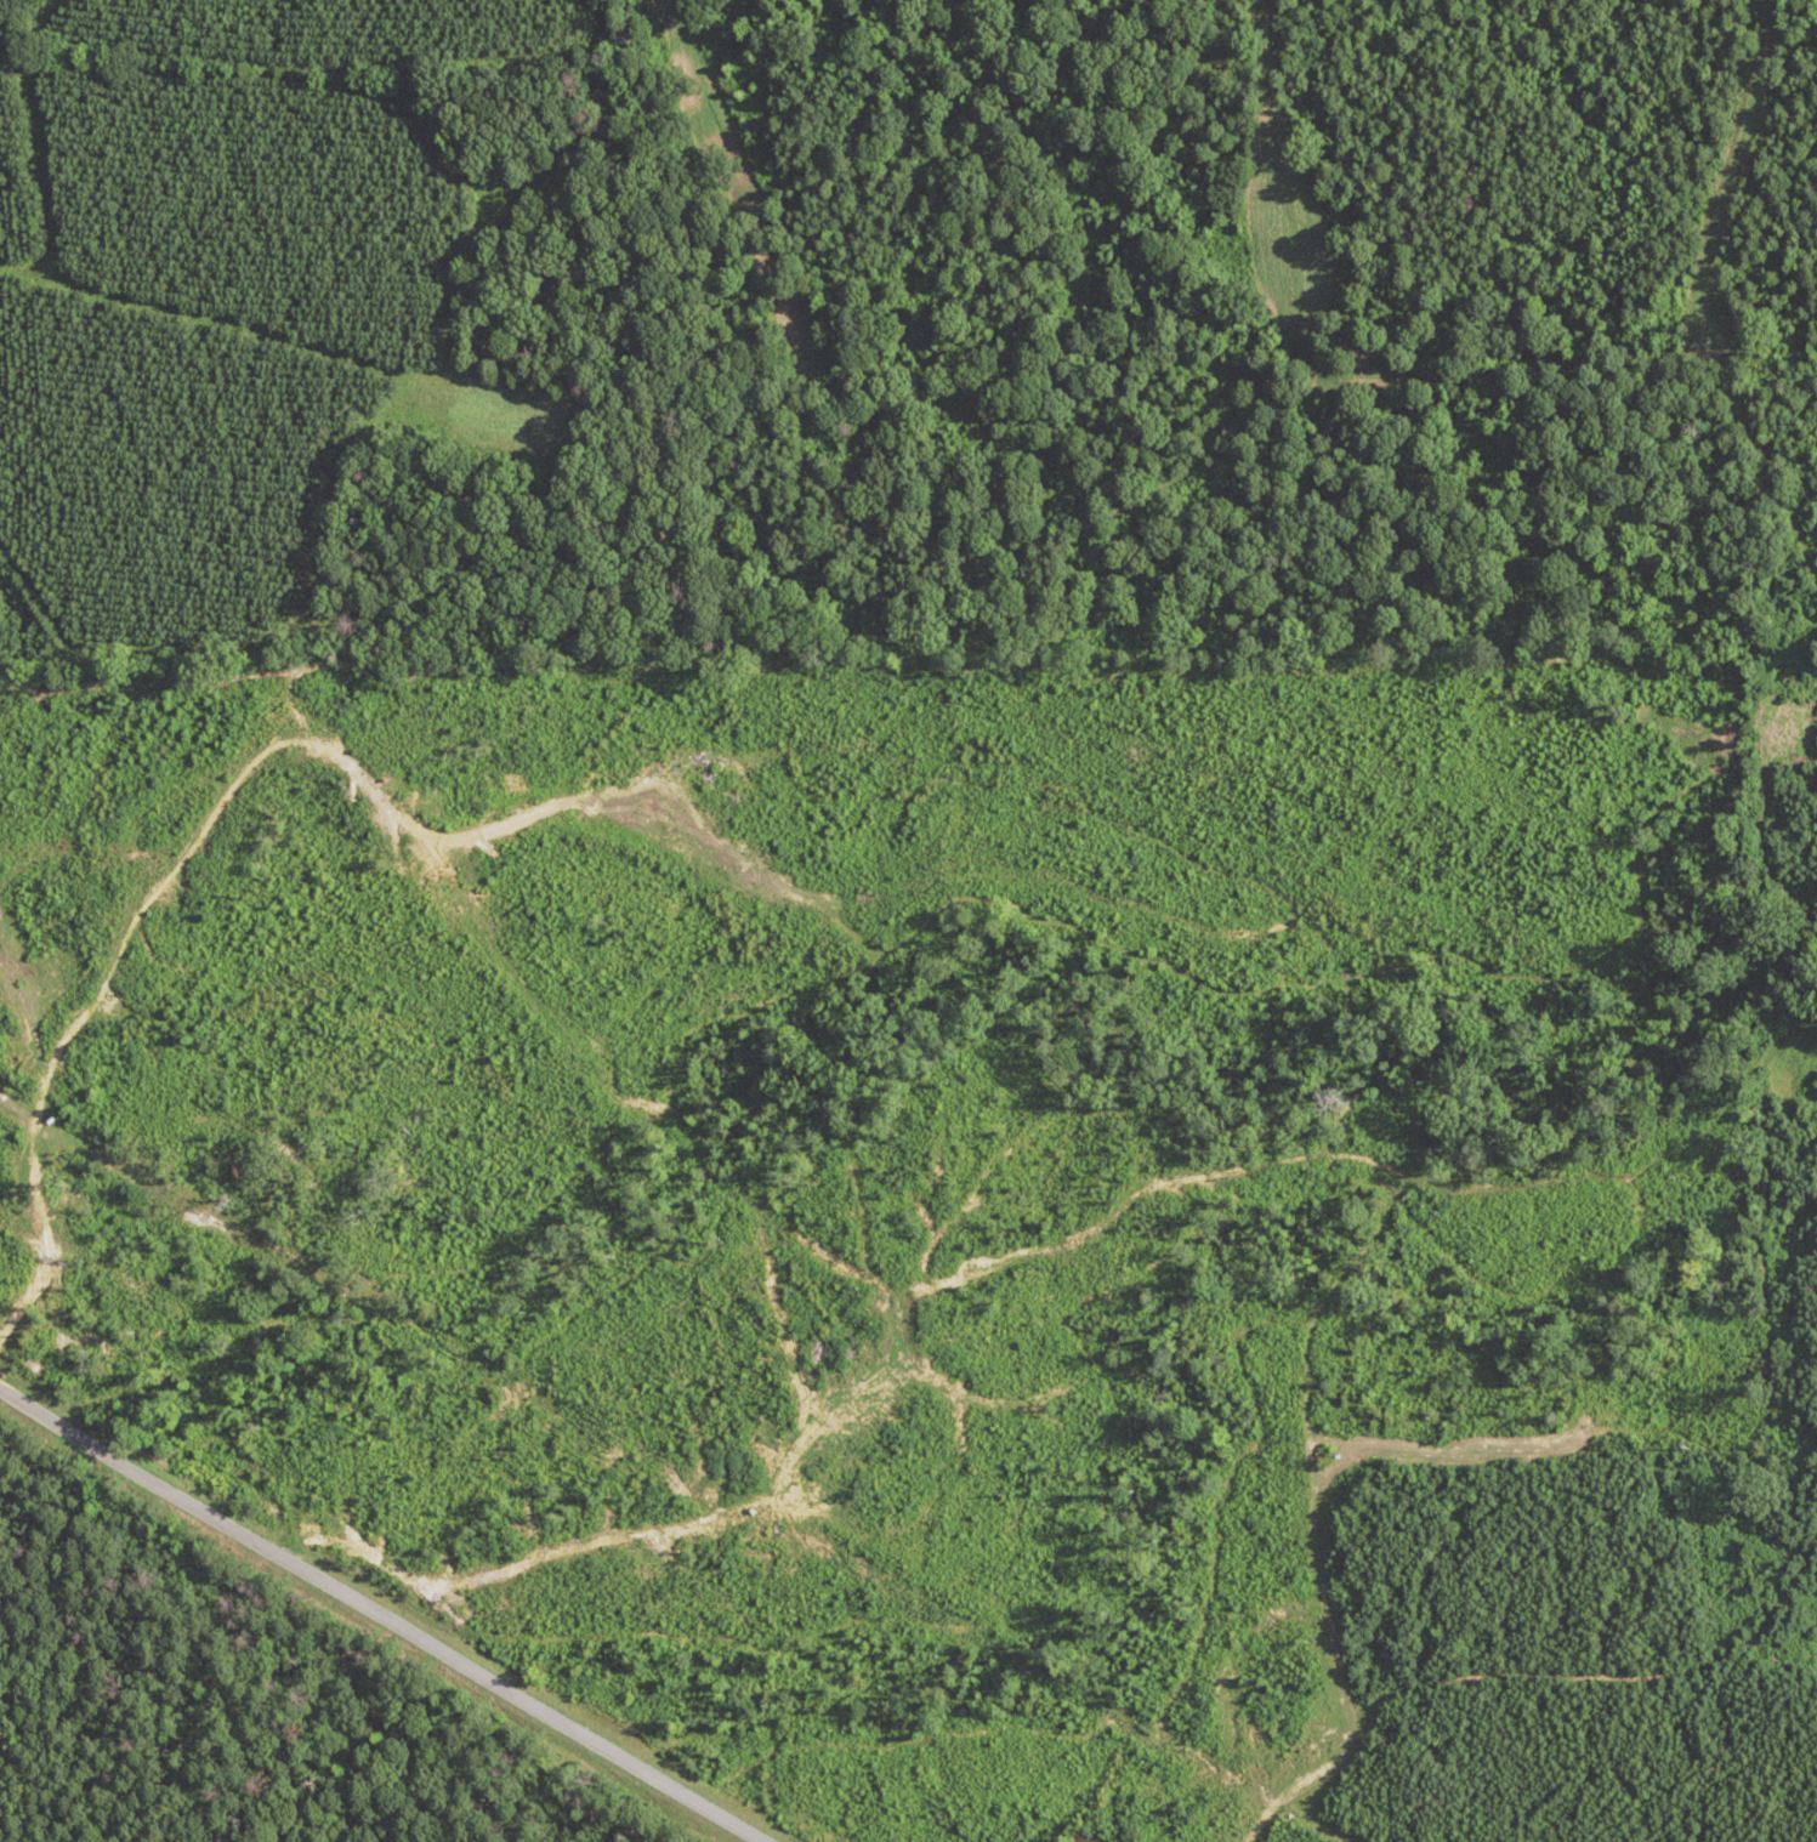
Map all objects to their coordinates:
road: (380, 1616)

